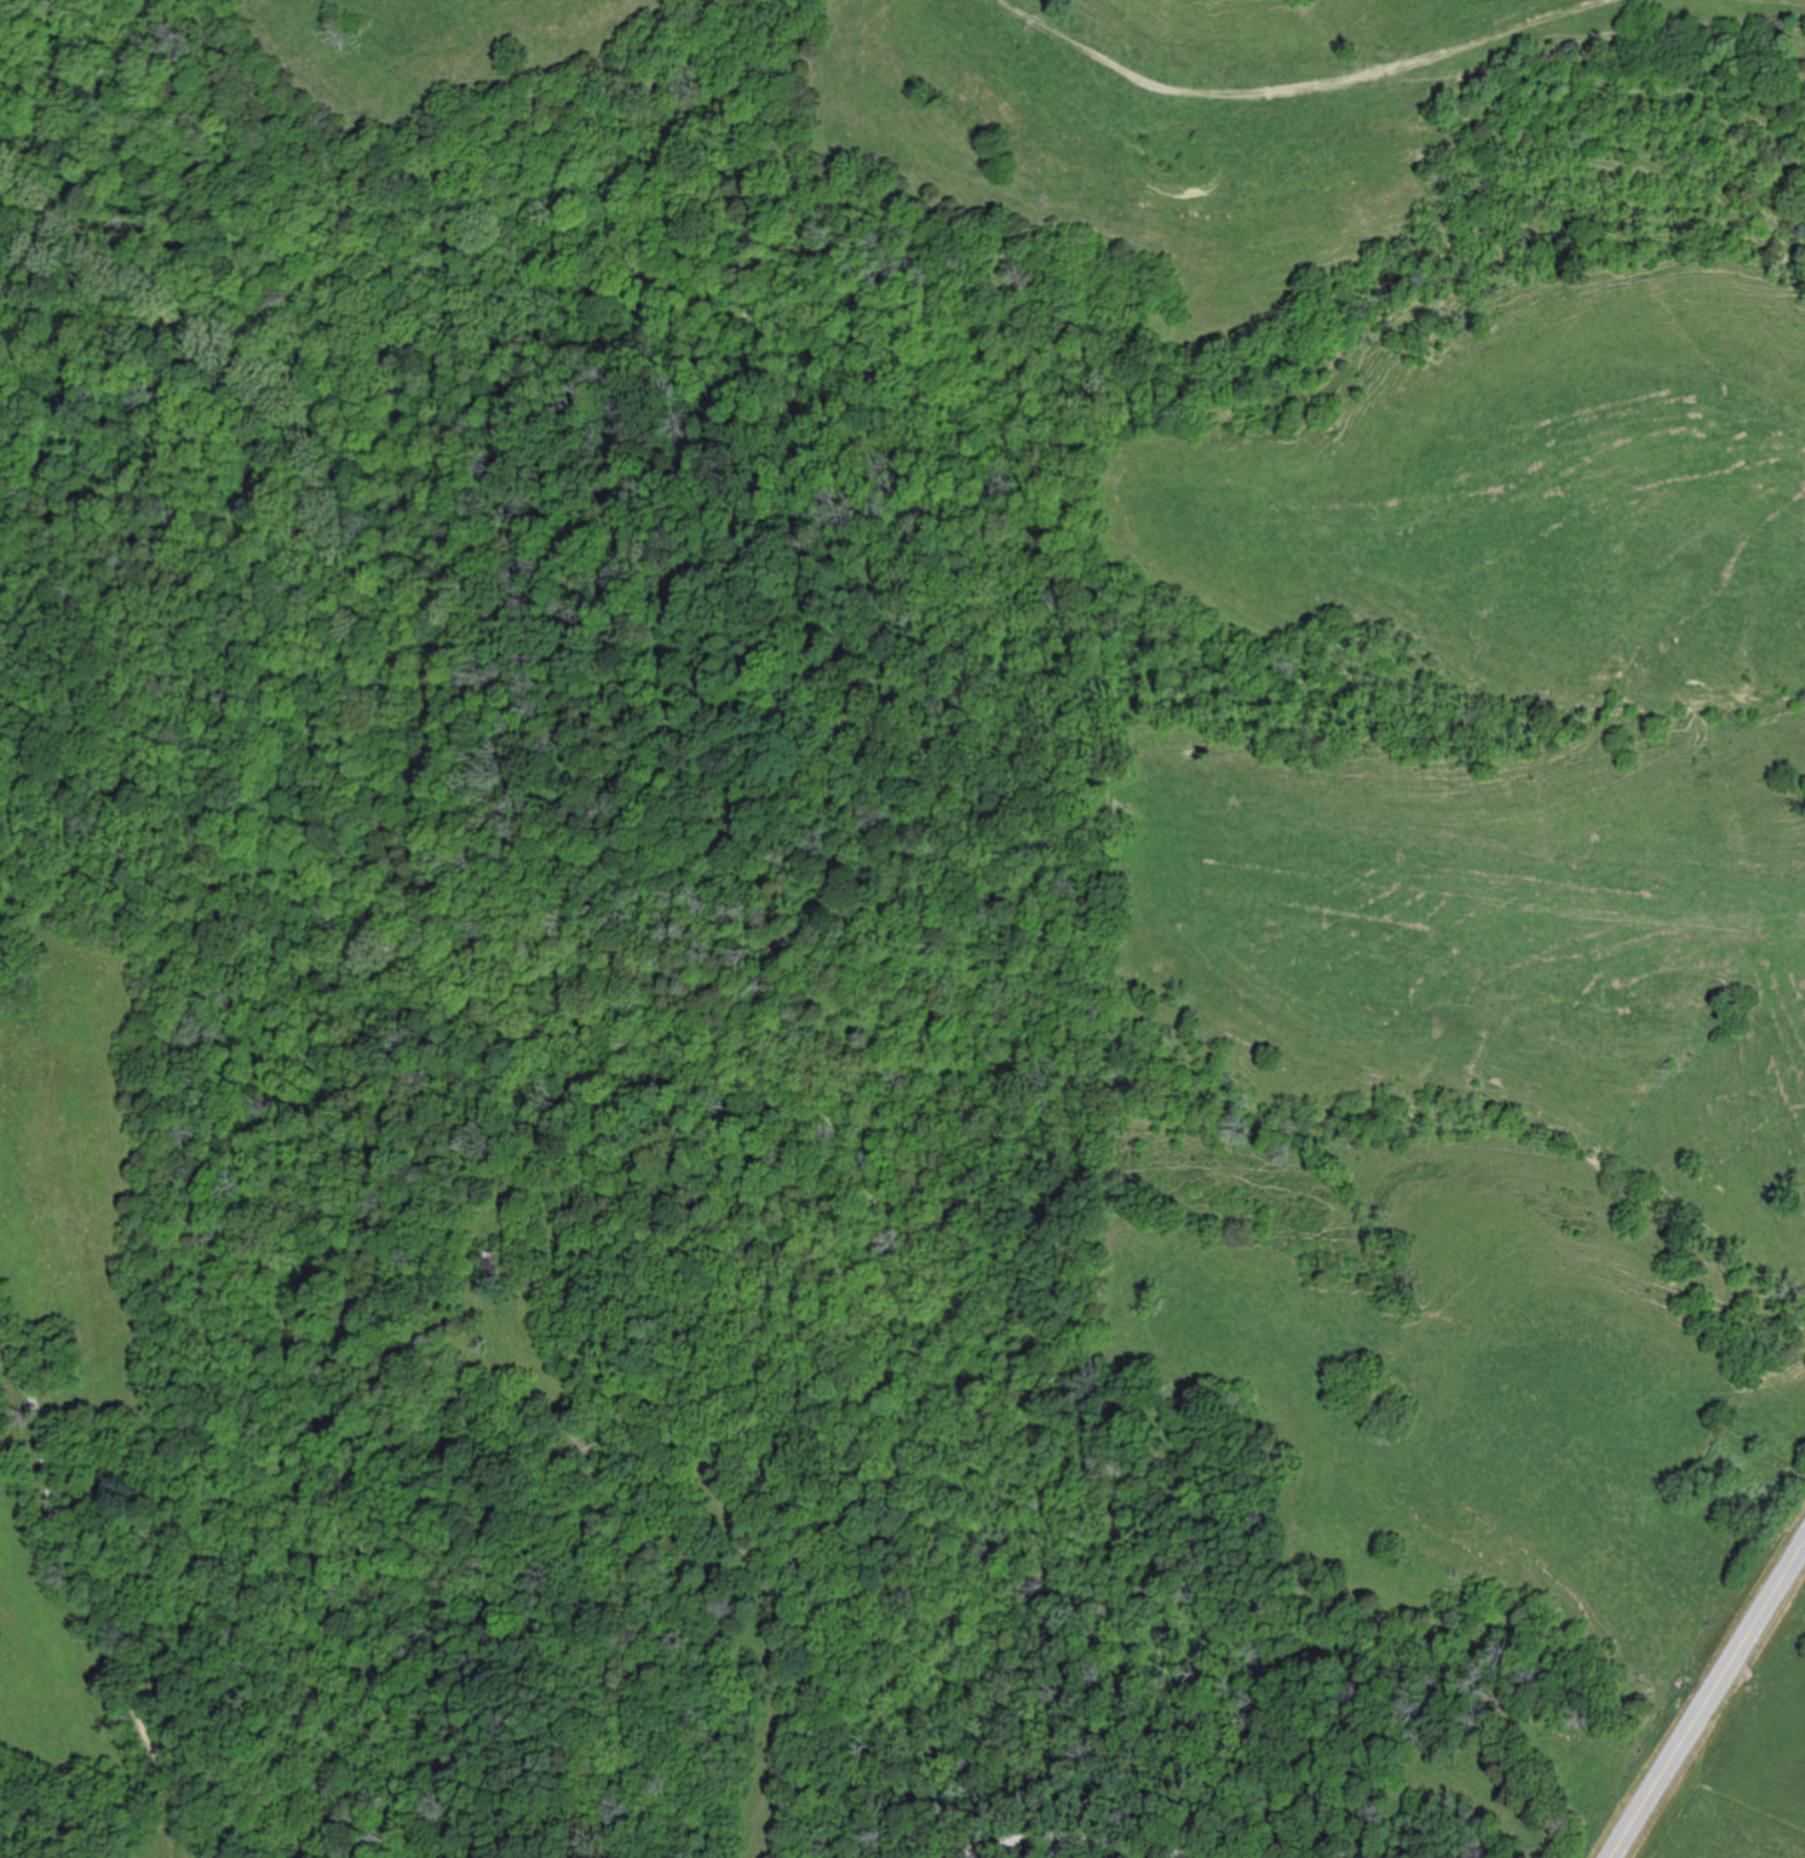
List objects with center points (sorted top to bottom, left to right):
road: (87, 1599)
road: (1709, 1702)
road: (1076, 1836)

